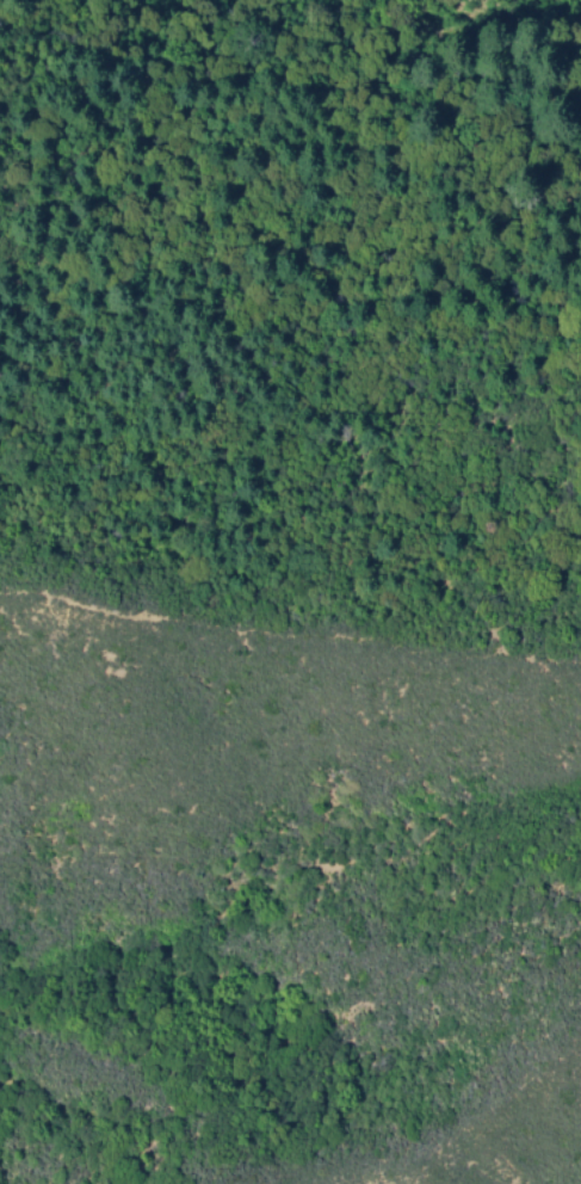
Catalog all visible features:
road: (289, 633)

